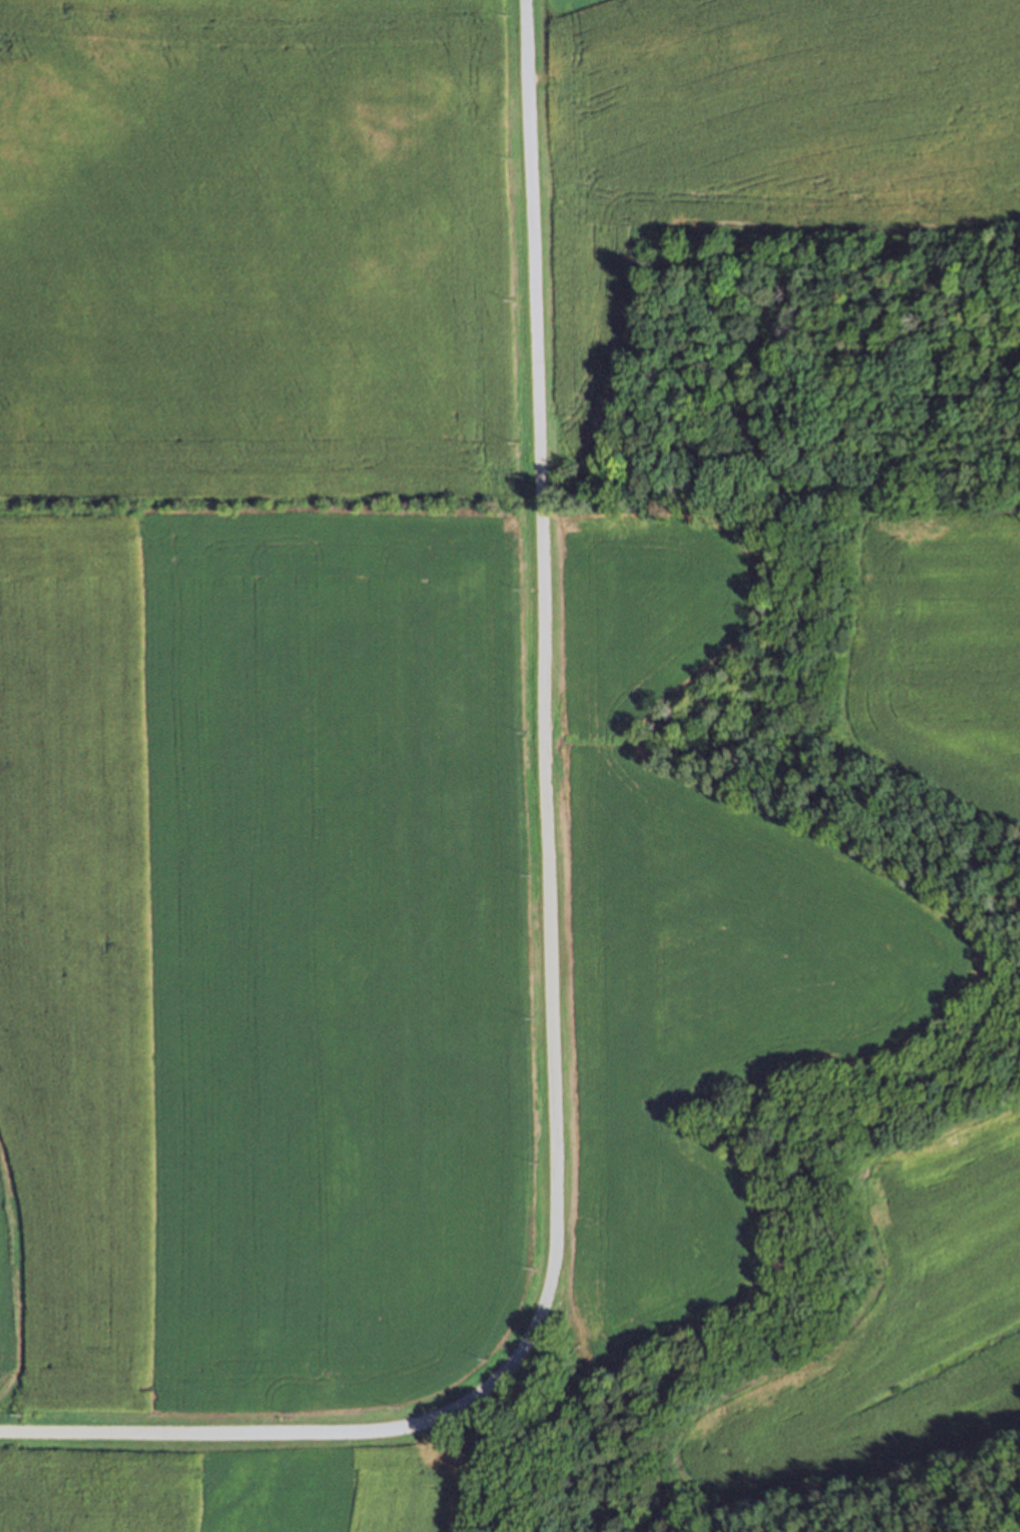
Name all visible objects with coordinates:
road: (549, 952)

